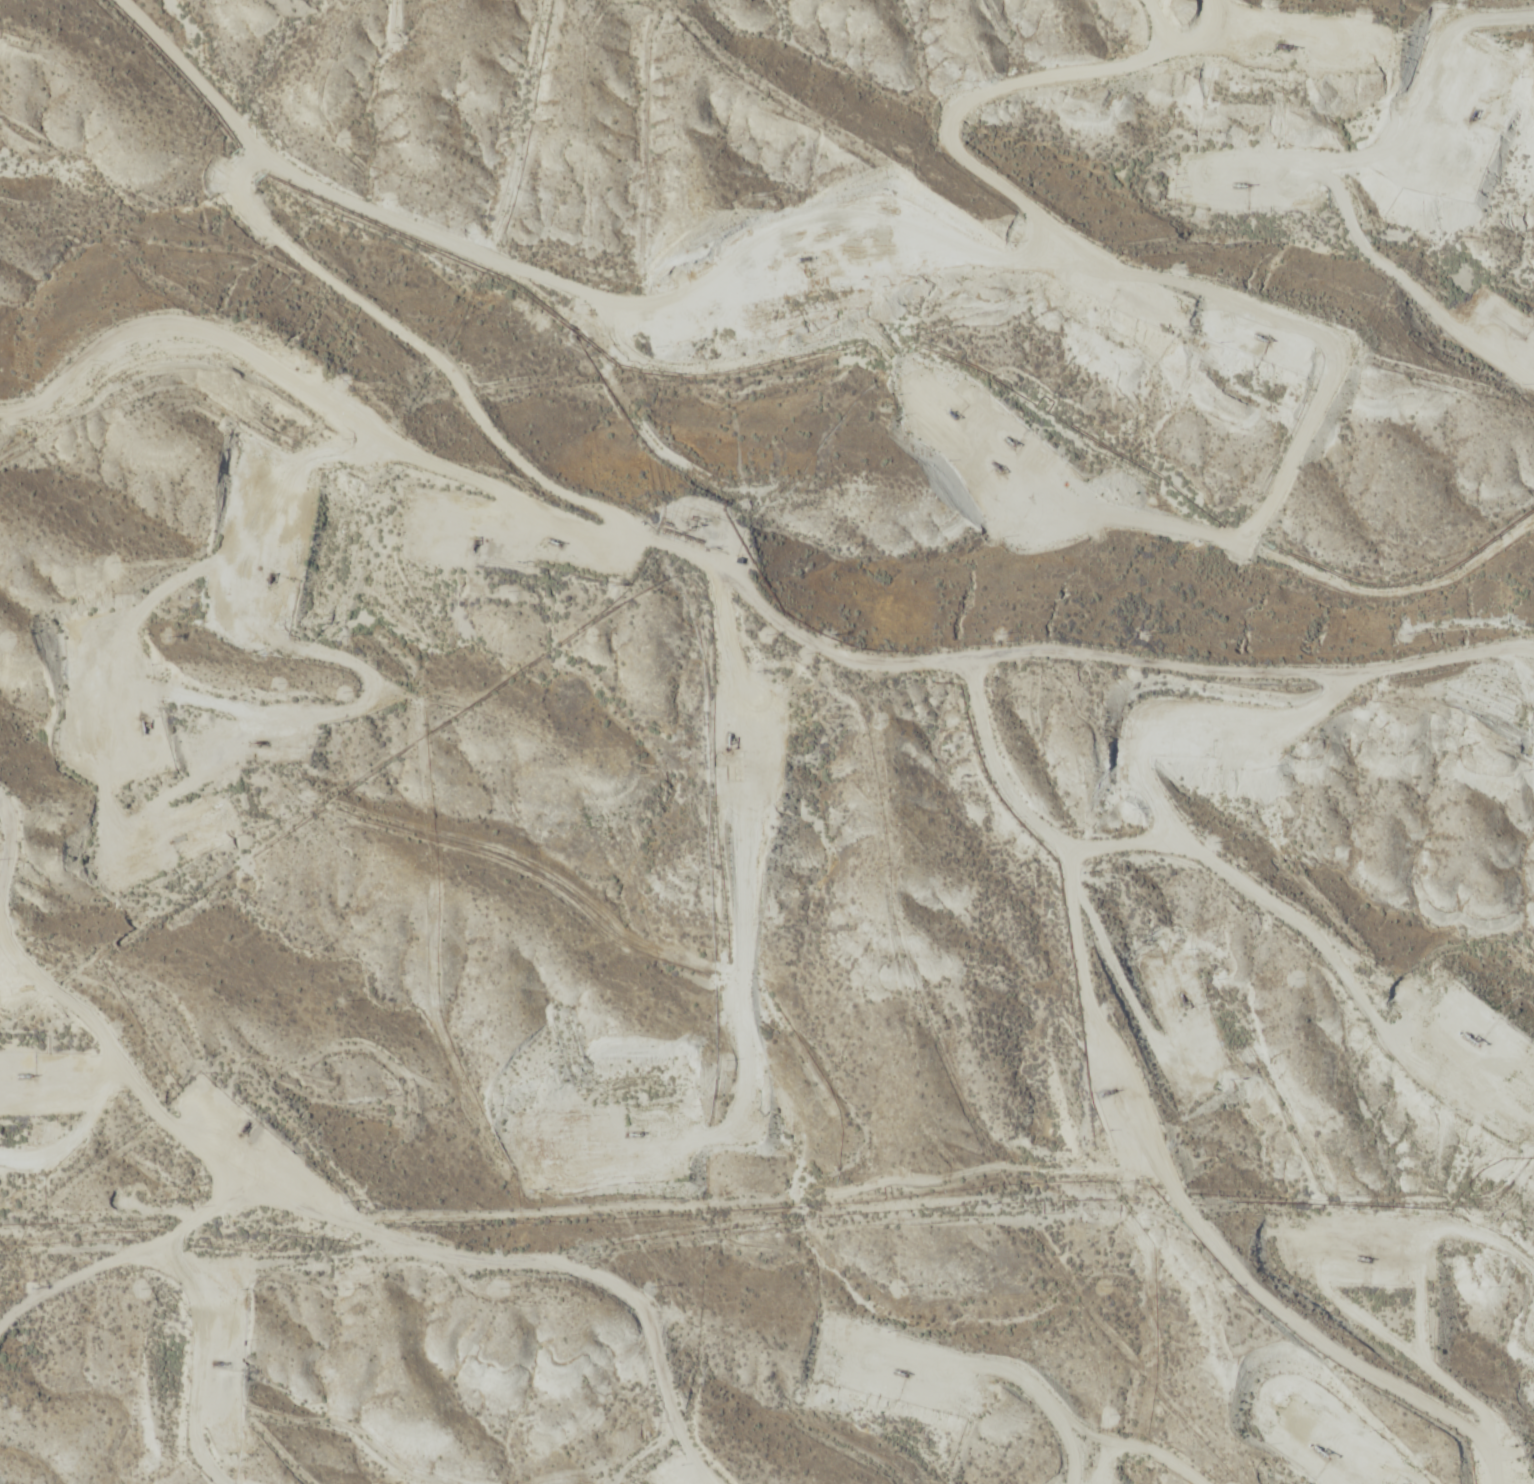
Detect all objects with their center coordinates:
road: (1067, 151)
road: (745, 575)
road: (1483, 623)
road: (1179, 813)
road: (64, 1019)
road: (1157, 1126)
road: (399, 1246)

